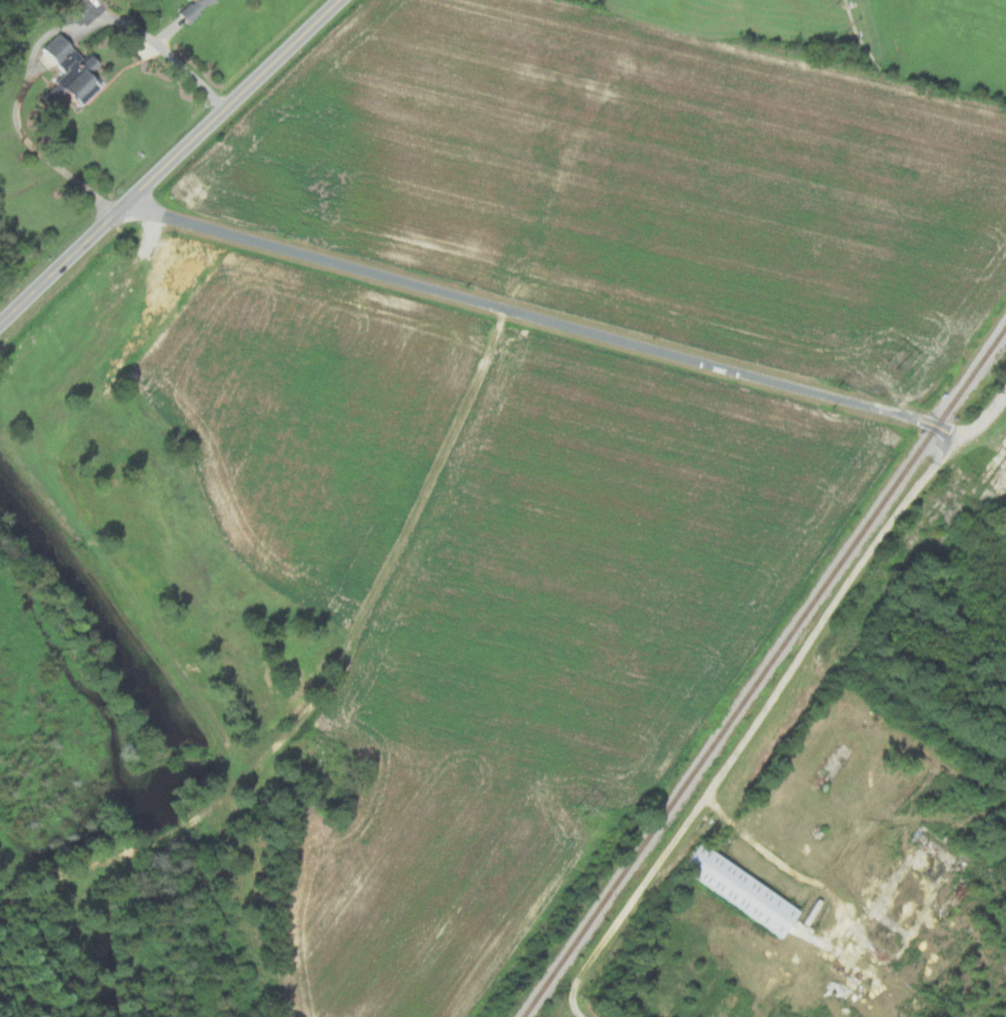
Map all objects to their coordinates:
road: (42, 37)
building: (64, 71)
road: (233, 102)
road: (60, 263)
road: (541, 320)
power tower: (896, 364)
road: (986, 420)
railway: (766, 672)
road: (759, 728)
power tower: (580, 810)
building: (736, 888)

